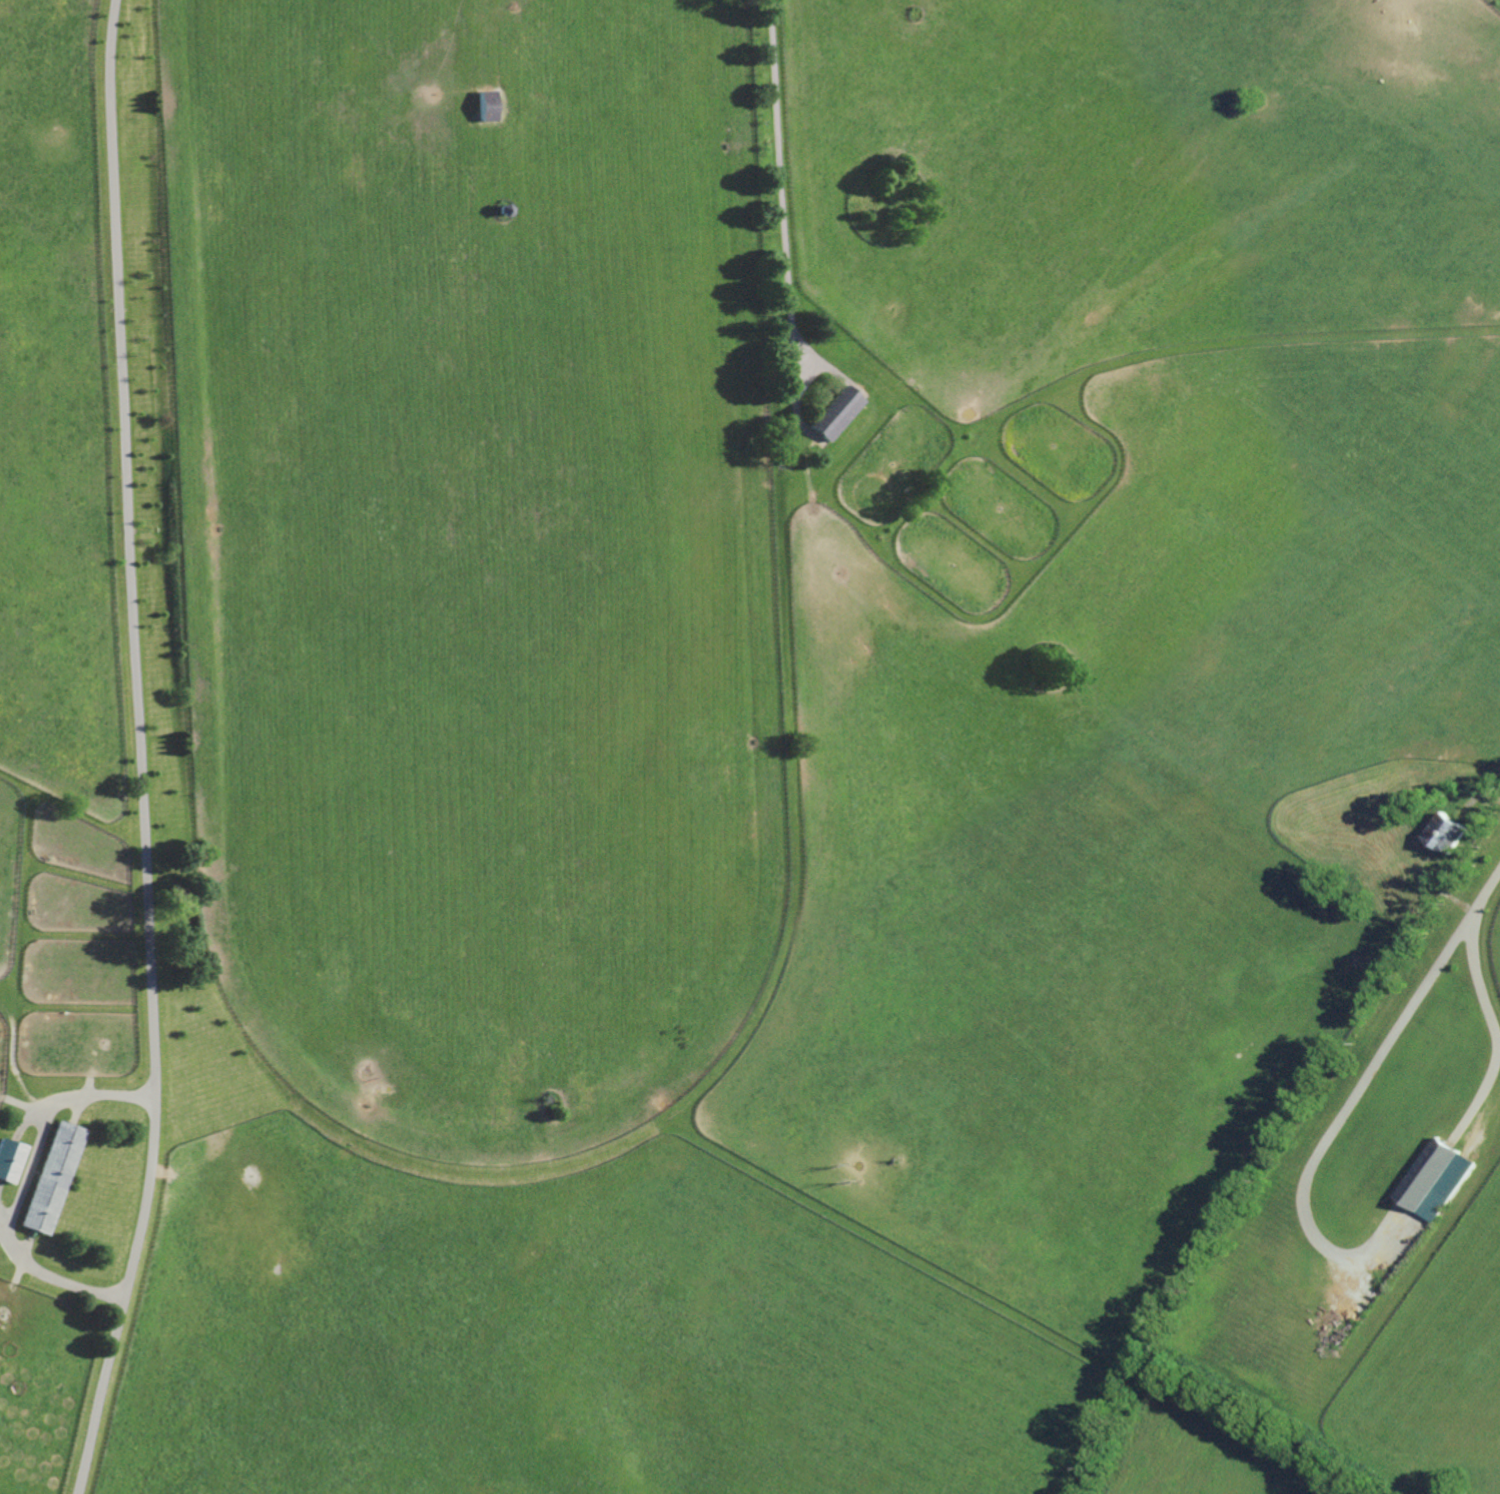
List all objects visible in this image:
building: (486, 105)
road: (779, 186)
building: (503, 208)
silo: (48, 236)
building: (832, 413)
road: (140, 750)
building: (1444, 832)
road: (1483, 996)
road: (1341, 1114)
building: (11, 1159)
building: (54, 1177)
building: (1434, 1178)
road: (23, 1188)

